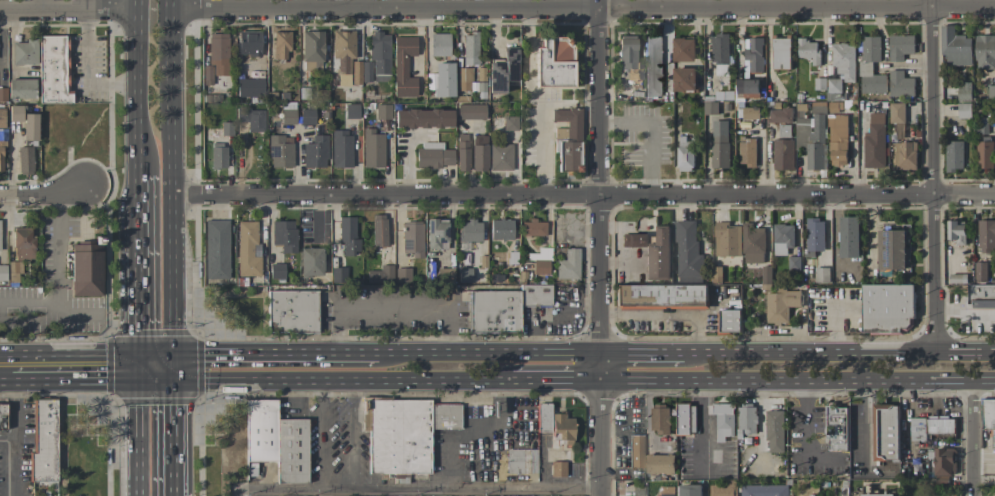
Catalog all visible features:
road: (86, 4)
road: (583, 6)
road: (69, 9)
building: (247, 43)
building: (280, 43)
building: (438, 44)
building: (899, 46)
building: (954, 46)
building: (469, 48)
building: (719, 48)
building: (682, 49)
building: (310, 50)
building: (807, 50)
building: (780, 51)
building: (985, 51)
building: (24, 52)
building: (217, 53)
building: (753, 54)
building: (342, 55)
building: (378, 55)
building: (628, 57)
building: (843, 60)
building: (551, 62)
building: (652, 65)
building: (402, 66)
building: (870, 66)
building: (54, 70)
building: (501, 70)
building: (365, 71)
building: (355, 72)
building: (205, 74)
building: (683, 78)
building: (441, 79)
building: (462, 79)
building: (819, 84)
building: (900, 84)
road: (139, 86)
building: (249, 87)
building: (746, 88)
building: (22, 89)
building: (832, 89)
building: (964, 92)
building: (991, 92)
building: (3, 94)
building: (834, 106)
building: (709, 107)
building: (963, 110)
building: (350, 111)
building: (382, 111)
building: (470, 111)
building: (287, 113)
building: (748, 113)
building: (896, 113)
building: (16, 114)
building: (306, 114)
building: (780, 115)
building: (2, 118)
building: (249, 118)
building: (421, 118)
building: (508, 123)
building: (31, 127)
road: (172, 127)
building: (994, 127)
building: (226, 128)
building: (784, 130)
building: (811, 134)
building: (837, 138)
building: (566, 139)
building: (874, 141)
building: (719, 144)
building: (371, 148)
building: (340, 149)
building: (279, 150)
building: (314, 151)
building: (747, 151)
building: (460, 152)
building: (477, 152)
building: (2, 153)
building: (684, 154)
building: (782, 154)
building: (984, 154)
building: (216, 155)
building: (432, 155)
building: (905, 155)
building: (953, 155)
building: (499, 157)
building: (25, 160)
road: (598, 175)
road: (933, 175)
road: (139, 184)
road: (583, 193)
road: (42, 194)
road: (139, 222)
building: (532, 227)
building: (499, 228)
building: (377, 229)
building: (468, 229)
building: (956, 231)
building: (435, 232)
building: (283, 236)
building: (347, 236)
road: (835, 236)
building: (849, 236)
building: (986, 236)
building: (411, 237)
building: (813, 237)
building: (782, 238)
building: (0, 239)
building: (726, 239)
building: (633, 240)
building: (24, 243)
building: (752, 243)
building: (215, 249)
building: (246, 249)
building: (891, 249)
building: (687, 251)
building: (659, 254)
building: (510, 257)
road: (622, 260)
building: (309, 261)
building: (794, 263)
building: (567, 264)
building: (540, 266)
building: (382, 267)
building: (89, 269)
building: (275, 270)
building: (980, 271)
building: (3, 272)
building: (14, 272)
building: (337, 273)
building: (401, 274)
building: (444, 274)
building: (463, 274)
building: (821, 274)
road: (58, 275)
building: (716, 275)
building: (766, 276)
building: (534, 294)
building: (660, 296)
building: (981, 296)
building: (781, 305)
road: (391, 308)
building: (886, 308)
road: (139, 310)
building: (292, 311)
building: (493, 311)
road: (171, 312)
road: (964, 314)
road: (664, 316)
road: (555, 317)
road: (38, 321)
building: (728, 321)
road: (835, 328)
road: (479, 352)
road: (632, 352)
road: (830, 352)
road: (263, 354)
road: (80, 369)
traffic signals: (140, 369)
road: (155, 369)
traffic signals: (170, 369)
road: (10, 370)
road: (347, 379)
road: (563, 380)
road: (797, 381)
building: (3, 416)
building: (988, 416)
building: (542, 417)
building: (747, 417)
building: (660, 418)
building: (684, 418)
building: (723, 419)
road: (866, 422)
road: (599, 424)
road: (705, 425)
building: (836, 426)
building: (930, 426)
building: (560, 428)
building: (774, 430)
building: (885, 431)
road: (19, 432)
road: (139, 432)
road: (170, 432)
building: (404, 432)
road: (322, 433)
road: (353, 433)
road: (9, 434)
road: (477, 434)
road: (972, 438)
road: (805, 439)
building: (275, 440)
building: (43, 443)
road: (108, 447)
road: (200, 447)
building: (634, 450)
building: (520, 460)
building: (943, 461)
building: (659, 463)
building: (557, 468)
road: (983, 480)
road: (414, 488)
building: (723, 488)
building: (637, 490)
building: (689, 490)
building: (763, 490)
building: (667, 491)
building: (876, 494)
building: (992, 495)

